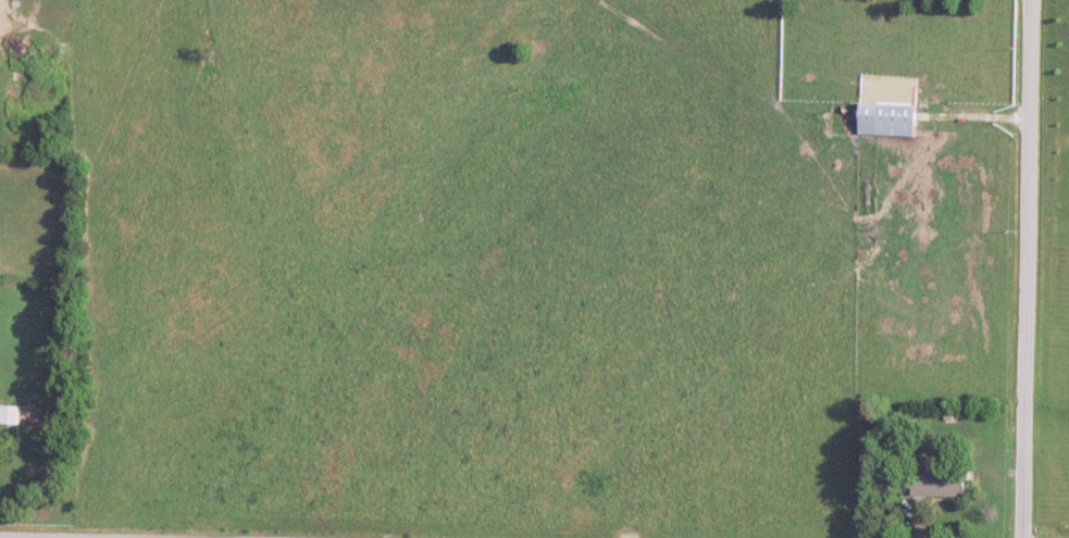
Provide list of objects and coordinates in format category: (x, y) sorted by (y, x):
building: (888, 121)
road: (1026, 268)
building: (10, 415)
building: (939, 483)

